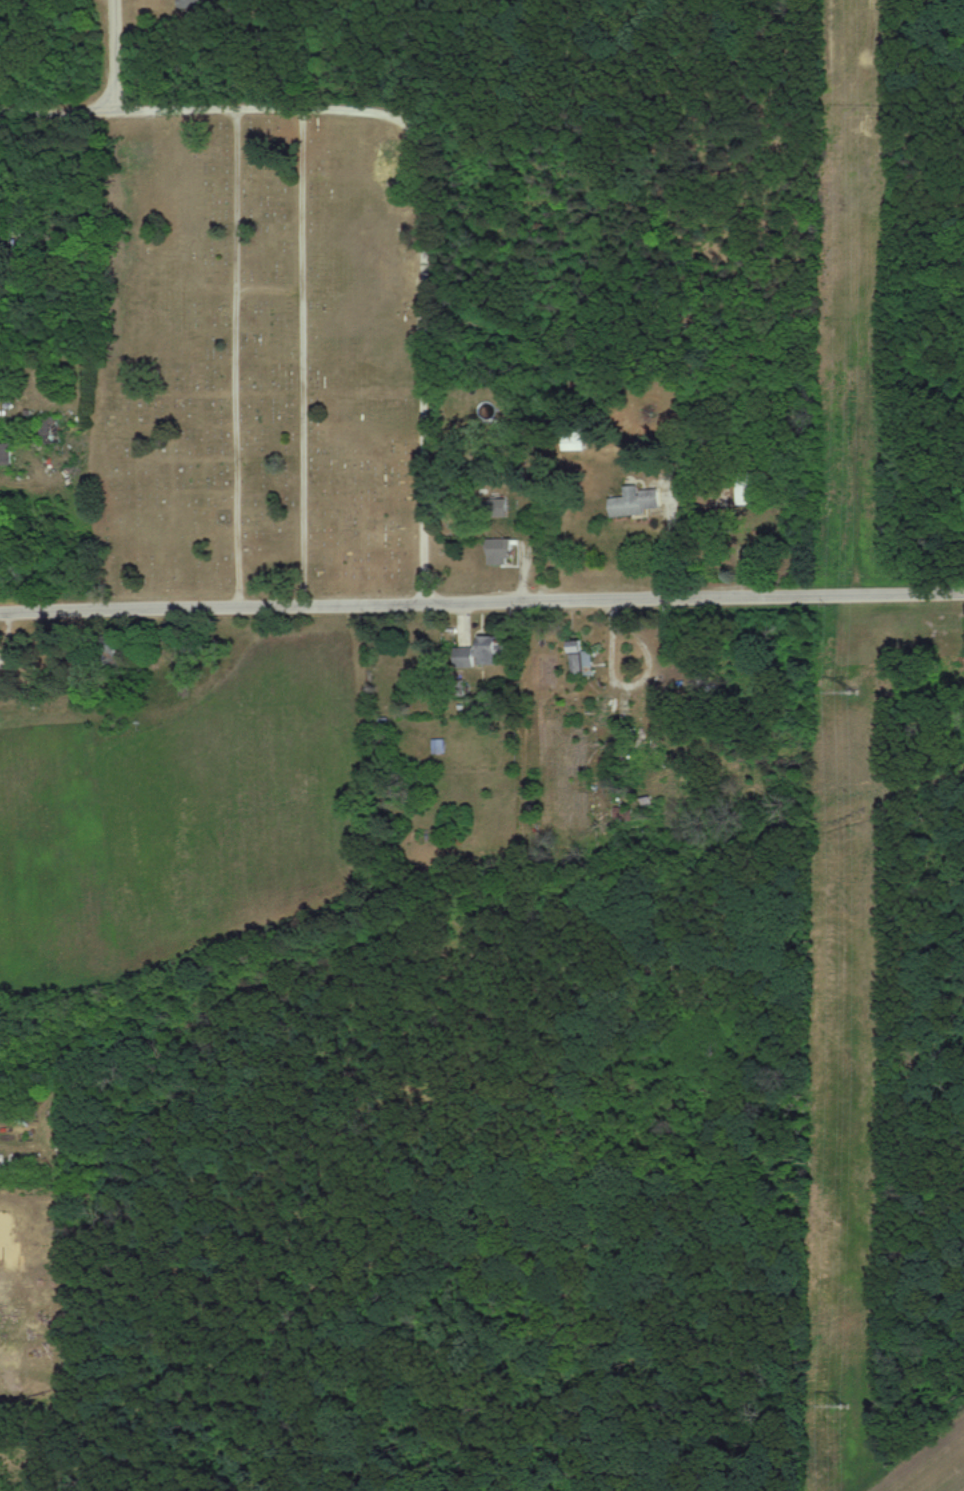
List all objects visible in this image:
building: (190, 3)
road: (114, 54)
road: (151, 107)
park: (267, 349)
road: (302, 354)
building: (630, 502)
building: (503, 551)
road: (719, 596)
road: (237, 604)
building: (491, 649)
building: (583, 657)

